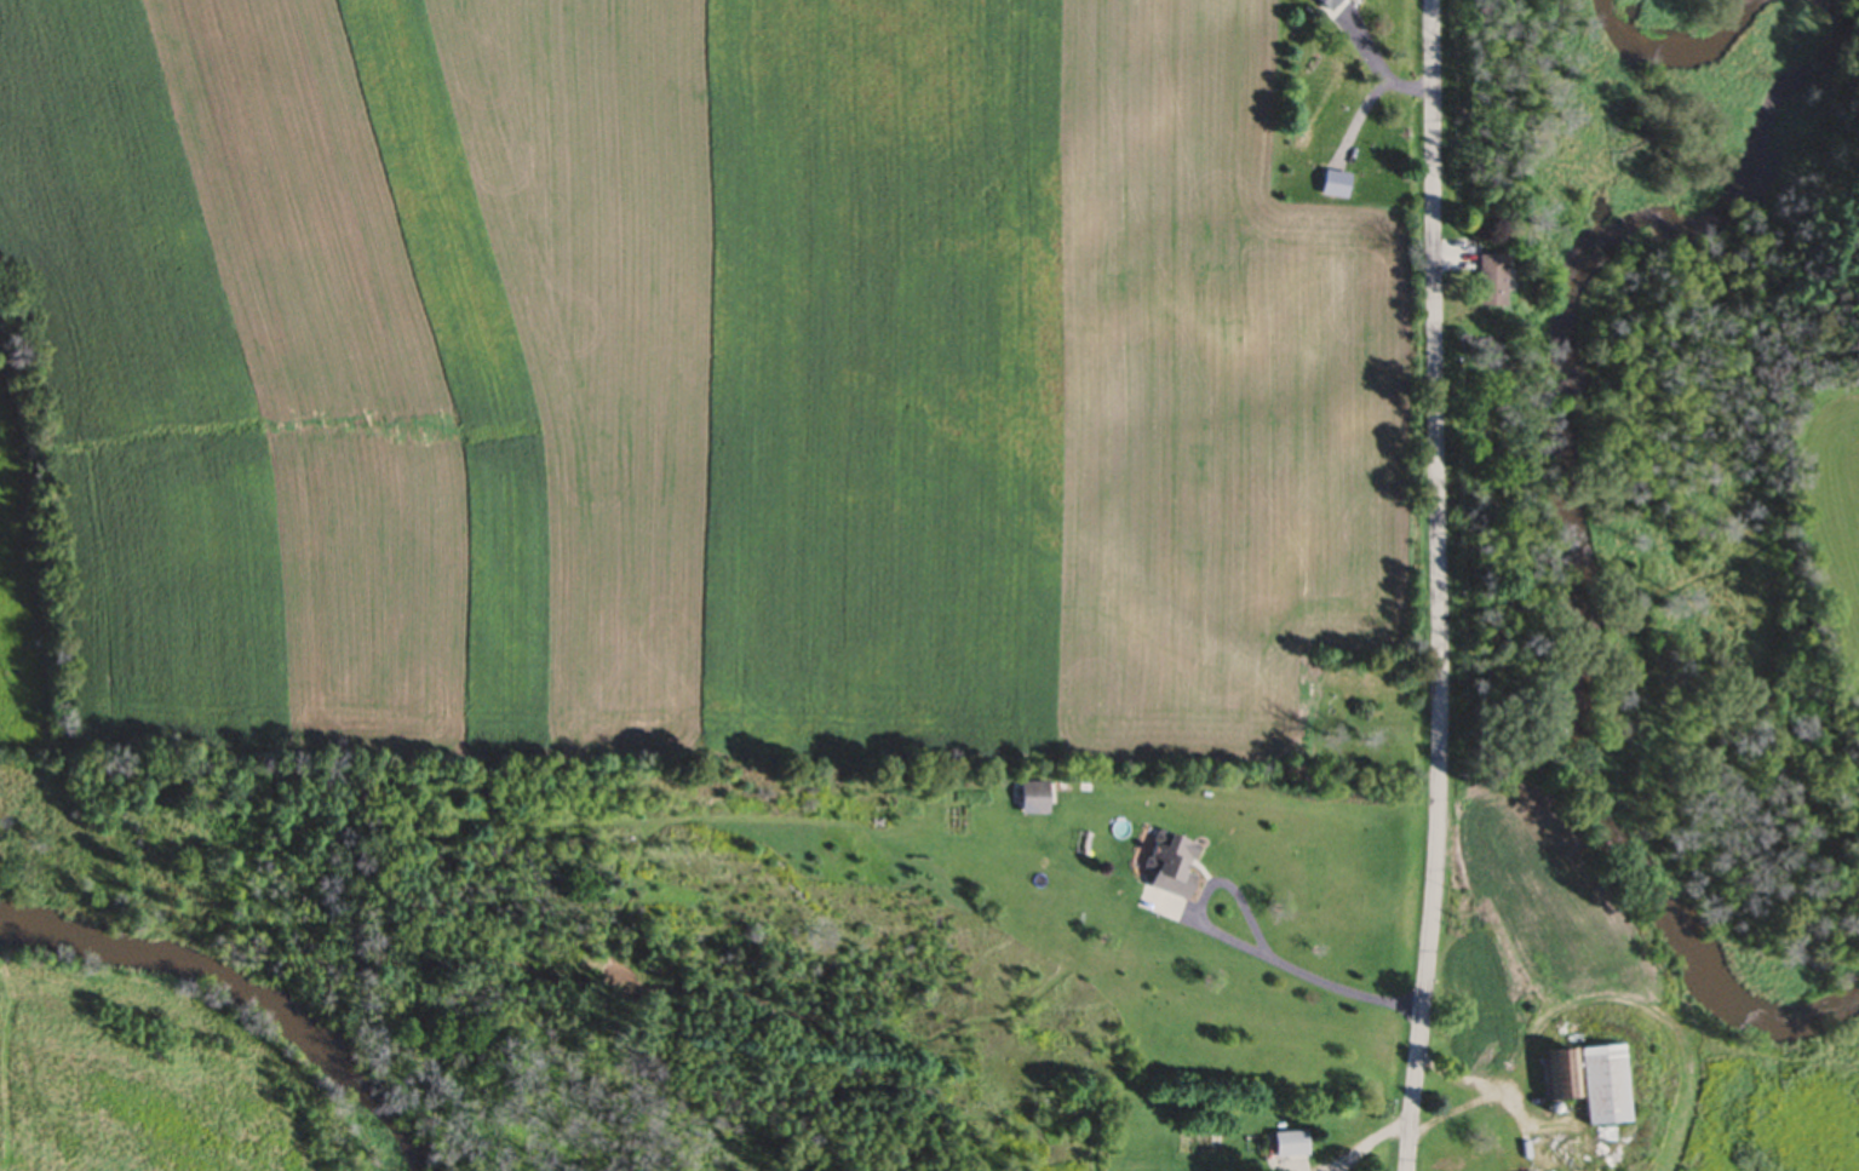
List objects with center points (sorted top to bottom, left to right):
building: (1320, 5)
river: (1674, 51)
road: (1375, 67)
building: (1332, 186)
building: (1482, 282)
river: (1568, 527)
road: (1439, 586)
building: (1029, 798)
building: (1165, 867)
road: (1243, 948)
river: (249, 997)
building: (1486, 1037)
building: (1551, 1077)
building: (1594, 1087)
building: (1287, 1147)
building: (1551, 1150)

